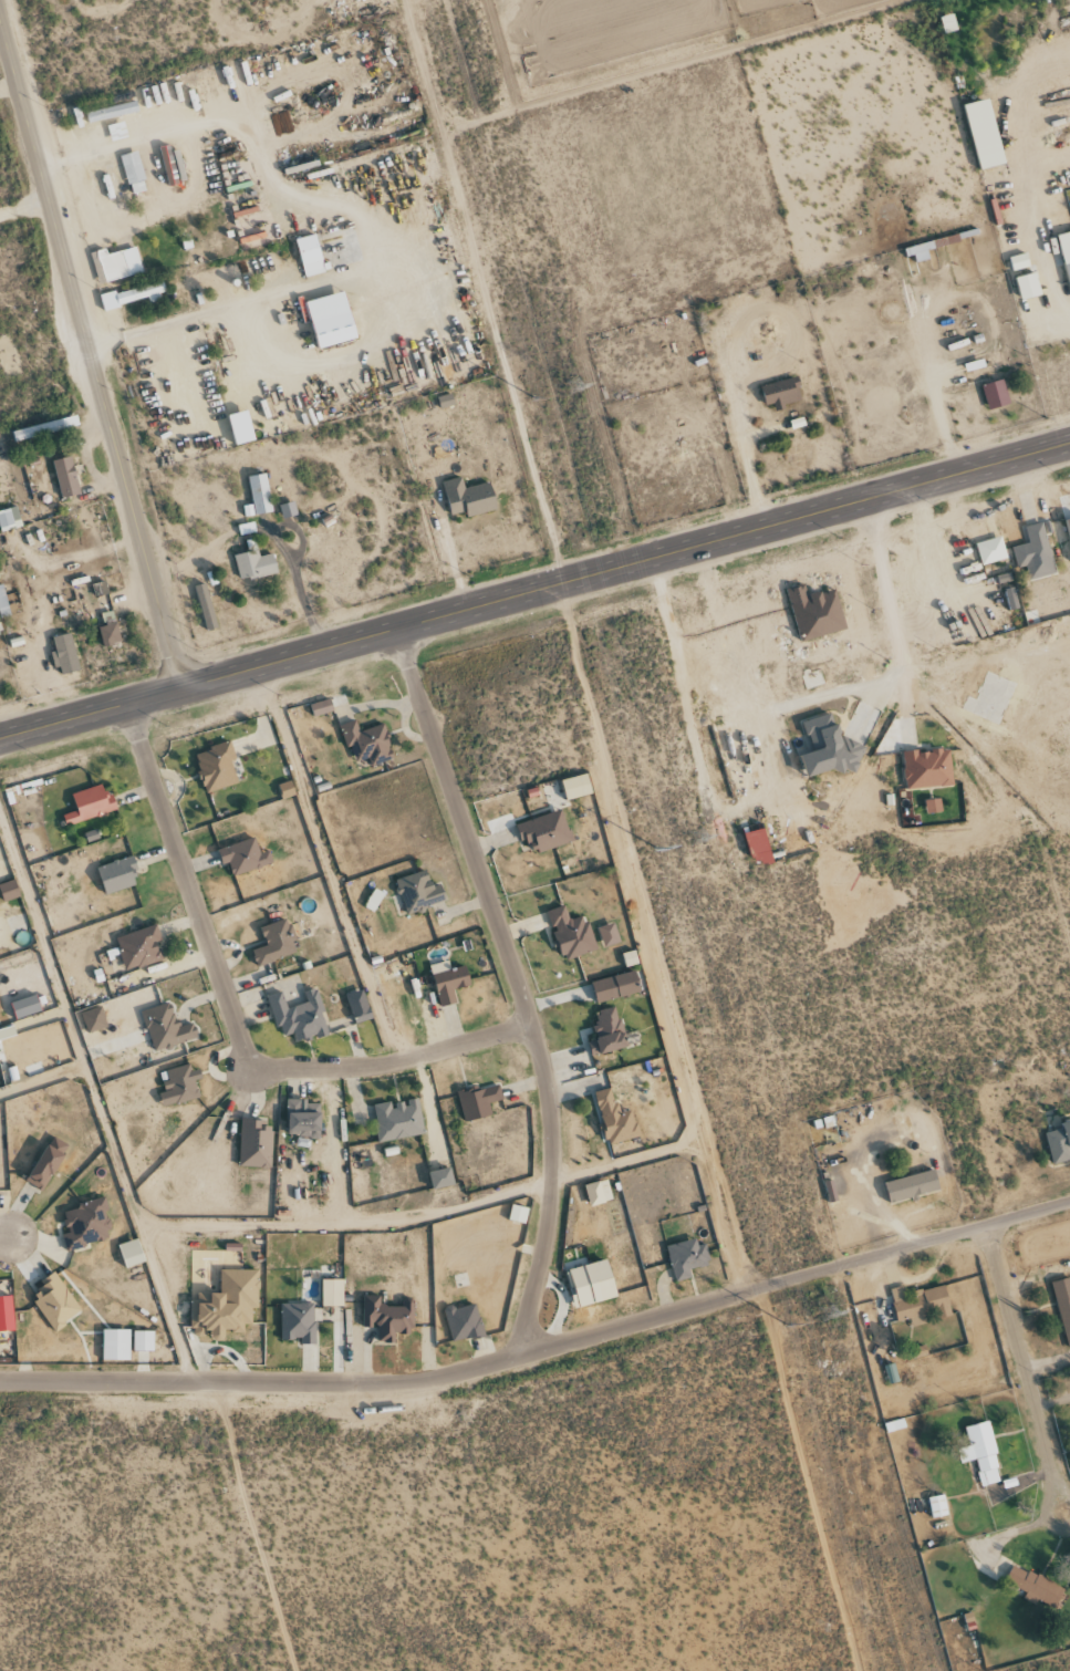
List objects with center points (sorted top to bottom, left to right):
building: (985, 134)
building: (173, 166)
building: (133, 173)
road: (349, 210)
building: (1066, 252)
building: (310, 256)
building: (1019, 261)
building: (116, 264)
building: (1028, 287)
building: (133, 295)
building: (332, 320)
road: (92, 361)
power tower: (570, 388)
building: (782, 393)
building: (996, 395)
power tower: (530, 399)
building: (242, 428)
building: (44, 429)
building: (66, 477)
building: (261, 494)
building: (468, 498)
building: (288, 510)
building: (9, 519)
building: (1068, 526)
building: (991, 550)
building: (1035, 552)
building: (254, 563)
road: (455, 570)
building: (1010, 599)
building: (3, 604)
road: (534, 604)
building: (206, 608)
road: (884, 608)
building: (817, 612)
building: (110, 630)
building: (66, 654)
building: (989, 698)
building: (322, 707)
building: (367, 743)
building: (829, 748)
building: (216, 767)
building: (928, 768)
building: (576, 787)
building: (287, 789)
building: (91, 805)
building: (934, 806)
building: (546, 831)
power tower: (689, 839)
power tower: (653, 851)
building: (245, 857)
building: (762, 858)
building: (118, 875)
building: (10, 891)
building: (419, 892)
building: (374, 900)
building: (571, 934)
building: (609, 935)
building: (276, 943)
building: (141, 947)
building: (449, 982)
building: (615, 987)
road: (519, 992)
building: (27, 1006)
building: (360, 1006)
building: (299, 1017)
building: (94, 1019)
road: (235, 1023)
building: (166, 1027)
building: (609, 1031)
building: (7, 1032)
road: (41, 1079)
building: (179, 1084)
road: (96, 1102)
building: (478, 1102)
building: (304, 1119)
building: (615, 1119)
building: (398, 1120)
building: (1059, 1143)
building: (256, 1144)
building: (49, 1163)
building: (443, 1179)
building: (912, 1186)
building: (599, 1193)
building: (518, 1214)
building: (86, 1225)
road: (337, 1225)
road: (3, 1237)
building: (132, 1253)
building: (687, 1258)
building: (592, 1284)
building: (332, 1293)
building: (55, 1304)
building: (922, 1305)
building: (226, 1306)
building: (1063, 1306)
road: (1005, 1308)
building: (7, 1314)
power tower: (825, 1315)
building: (387, 1318)
building: (298, 1322)
building: (464, 1322)
power tower: (783, 1326)
building: (144, 1341)
building: (116, 1345)
road: (542, 1348)
building: (141, 1357)
building: (980, 1453)
building: (937, 1506)
building: (1035, 1587)

